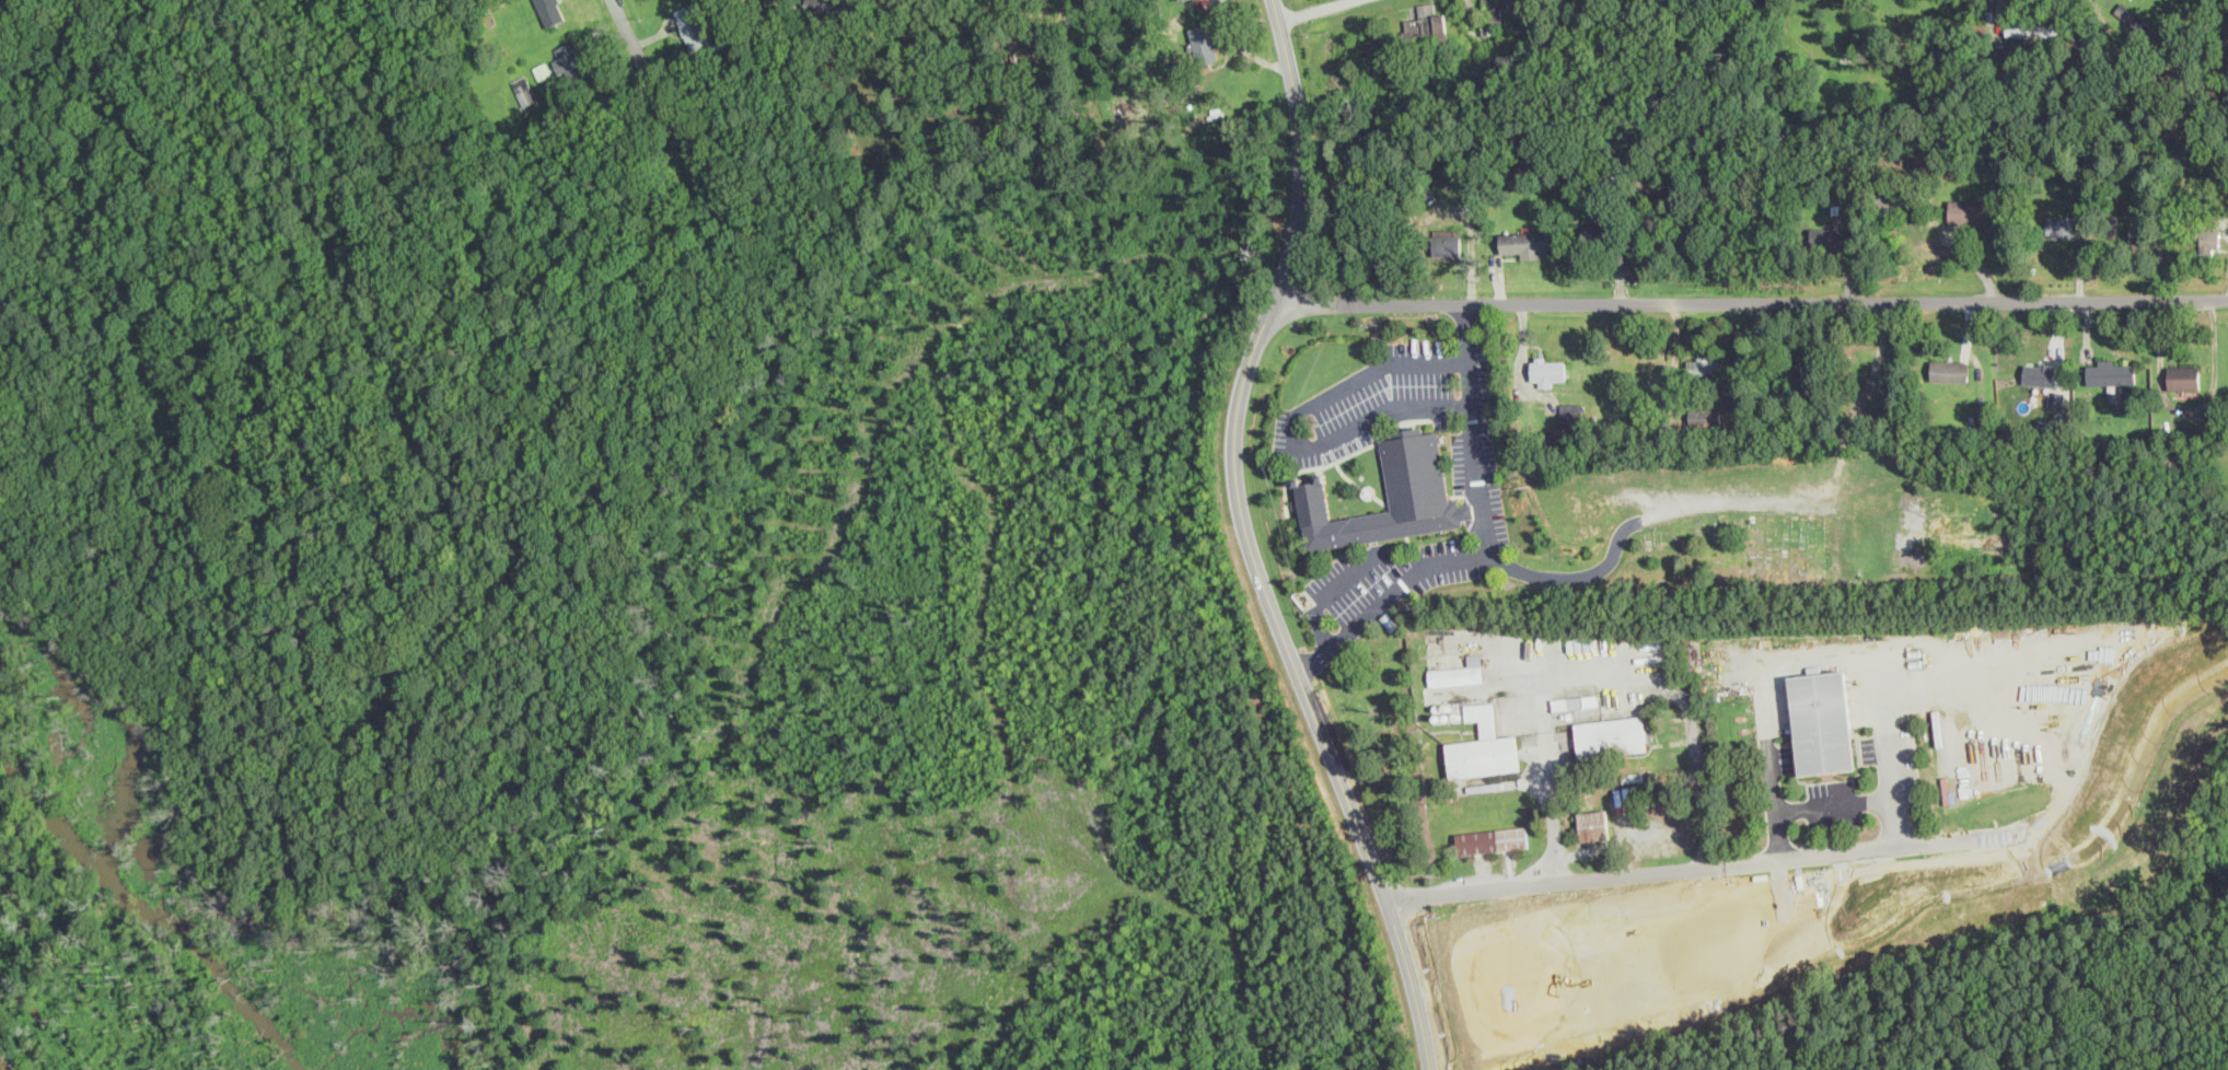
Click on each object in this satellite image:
building: (836, 7)
road: (1315, 10)
building: (552, 11)
building: (1426, 20)
building: (692, 26)
building: (2032, 28)
road: (630, 36)
building: (1204, 42)
building: (572, 62)
building: (542, 70)
building: (525, 90)
building: (1970, 210)
building: (2062, 225)
building: (1597, 230)
building: (1832, 237)
building: (2207, 239)
building: (1524, 243)
building: (1446, 244)
road: (1750, 296)
building: (1703, 367)
building: (1547, 370)
building: (1949, 370)
building: (2111, 372)
building: (2039, 374)
building: (2185, 376)
building: (2056, 397)
building: (1570, 414)
building: (1704, 415)
road: (1296, 423)
building: (1417, 489)
road: (1250, 543)
road: (1493, 543)
park: (1732, 562)
road: (1330, 591)
road: (1824, 656)
building: (1459, 672)
road: (1595, 672)
building: (1823, 721)
building: (1612, 736)
building: (1483, 745)
road: (1835, 803)
building: (1492, 839)
road: (1719, 864)
building: (1720, 915)
building: (1742, 915)
building: (1666, 972)
building: (1733, 979)

